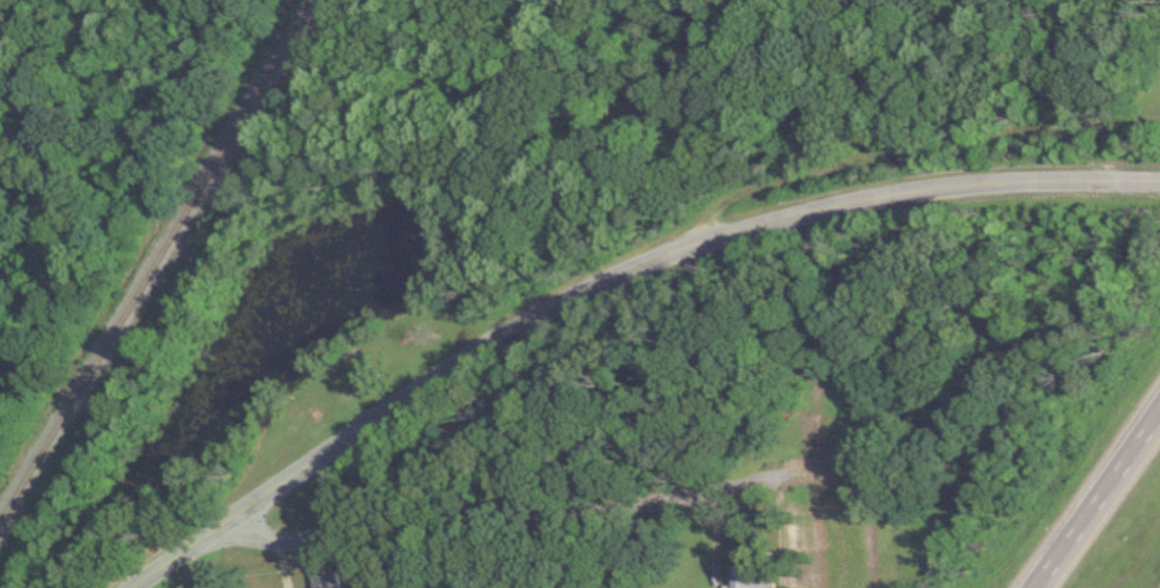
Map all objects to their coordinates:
crop: (1148, 95)
road: (907, 145)
railway: (151, 261)
road: (612, 279)
crop: (843, 495)
road: (1100, 503)
road: (503, 520)
building: (749, 577)
building: (327, 578)

